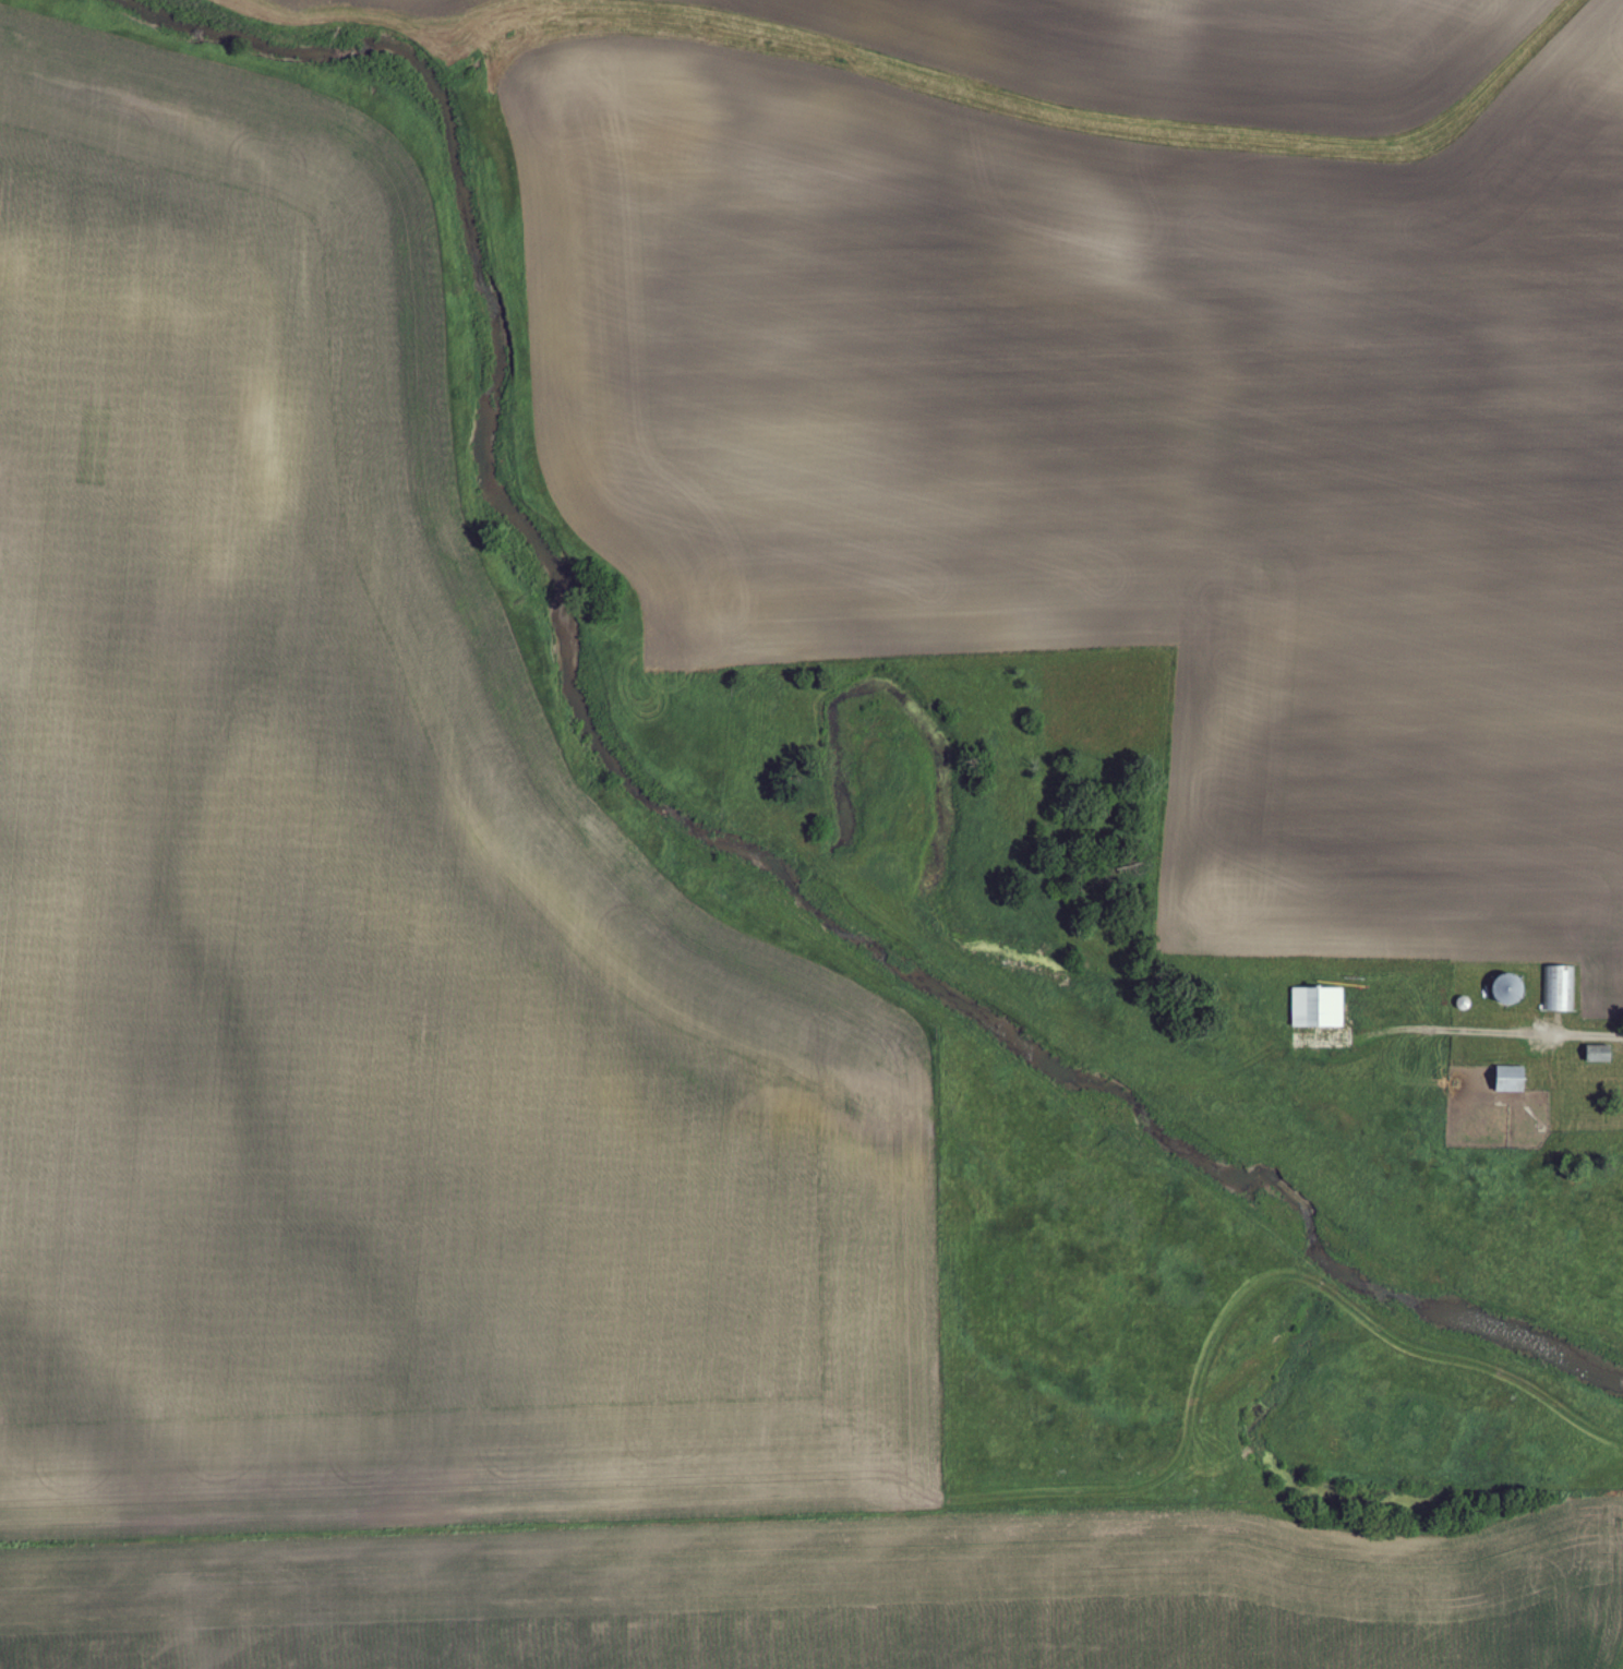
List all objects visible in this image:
building: (1559, 988)
building: (1318, 1007)
road: (1496, 1026)
building: (1599, 1054)
building: (1511, 1079)

